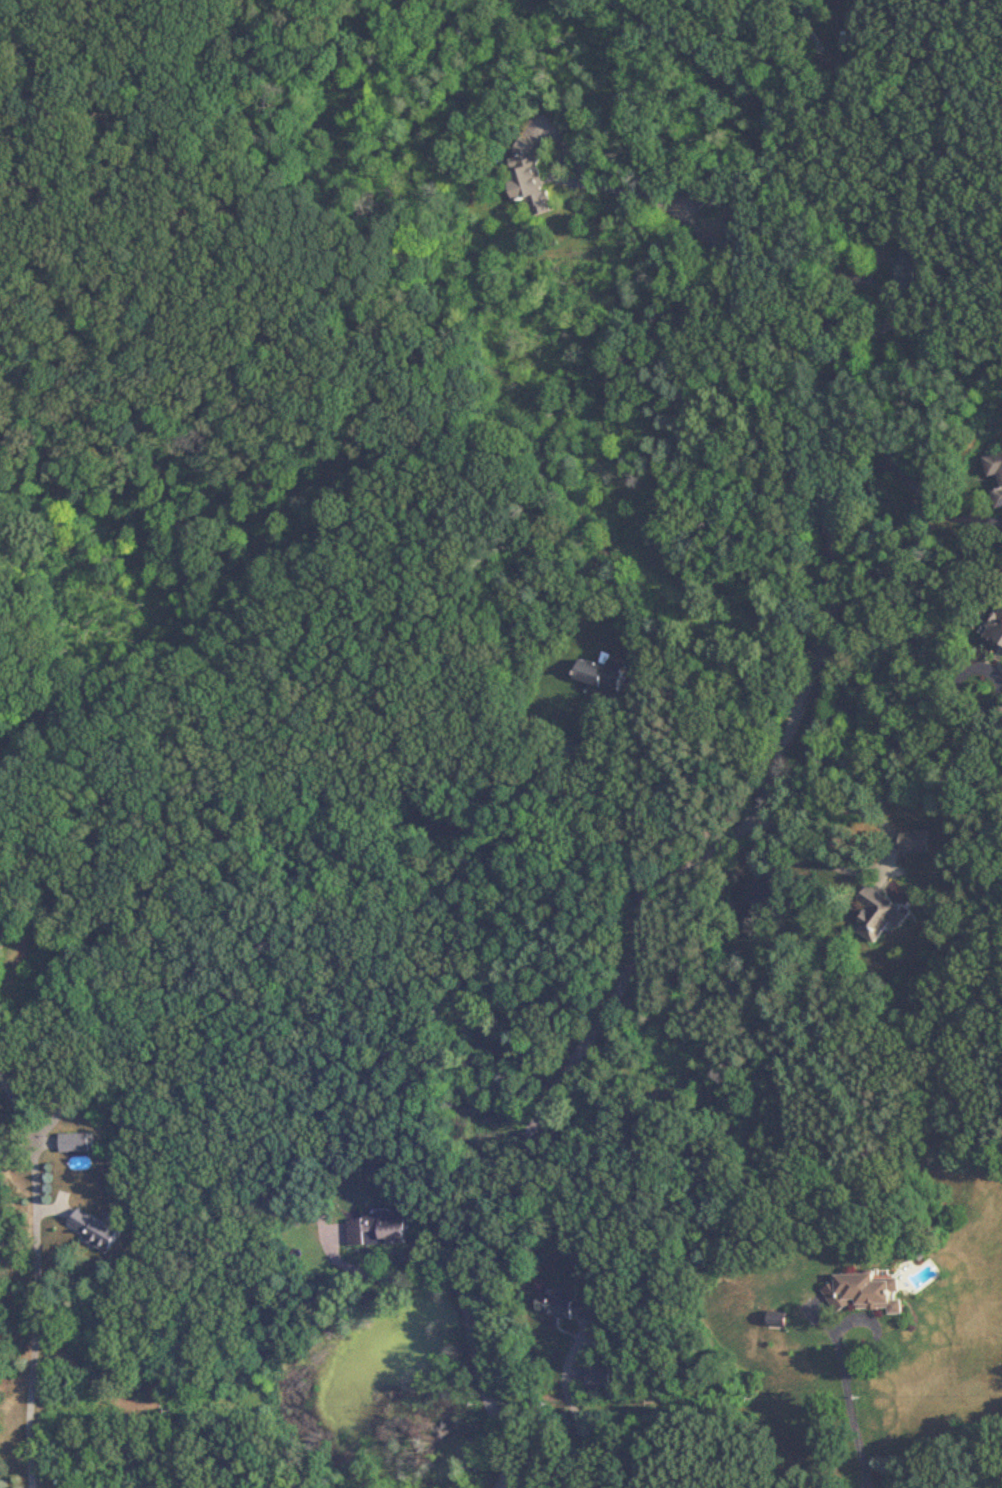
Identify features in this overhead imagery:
building: (527, 180)
road: (672, 206)
road: (775, 238)
building: (914, 264)
park: (86, 294)
road: (868, 338)
road: (908, 477)
building: (1000, 482)
building: (994, 630)
building: (602, 673)
road: (900, 744)
road: (875, 837)
building: (874, 915)
road: (616, 995)
building: (73, 1143)
road: (44, 1144)
building: (375, 1230)
building: (93, 1232)
road: (381, 1277)
road: (31, 1282)
building: (863, 1295)
building: (567, 1309)
road: (863, 1319)
building: (772, 1322)
building: (596, 1378)
road: (573, 1409)
road: (855, 1430)

